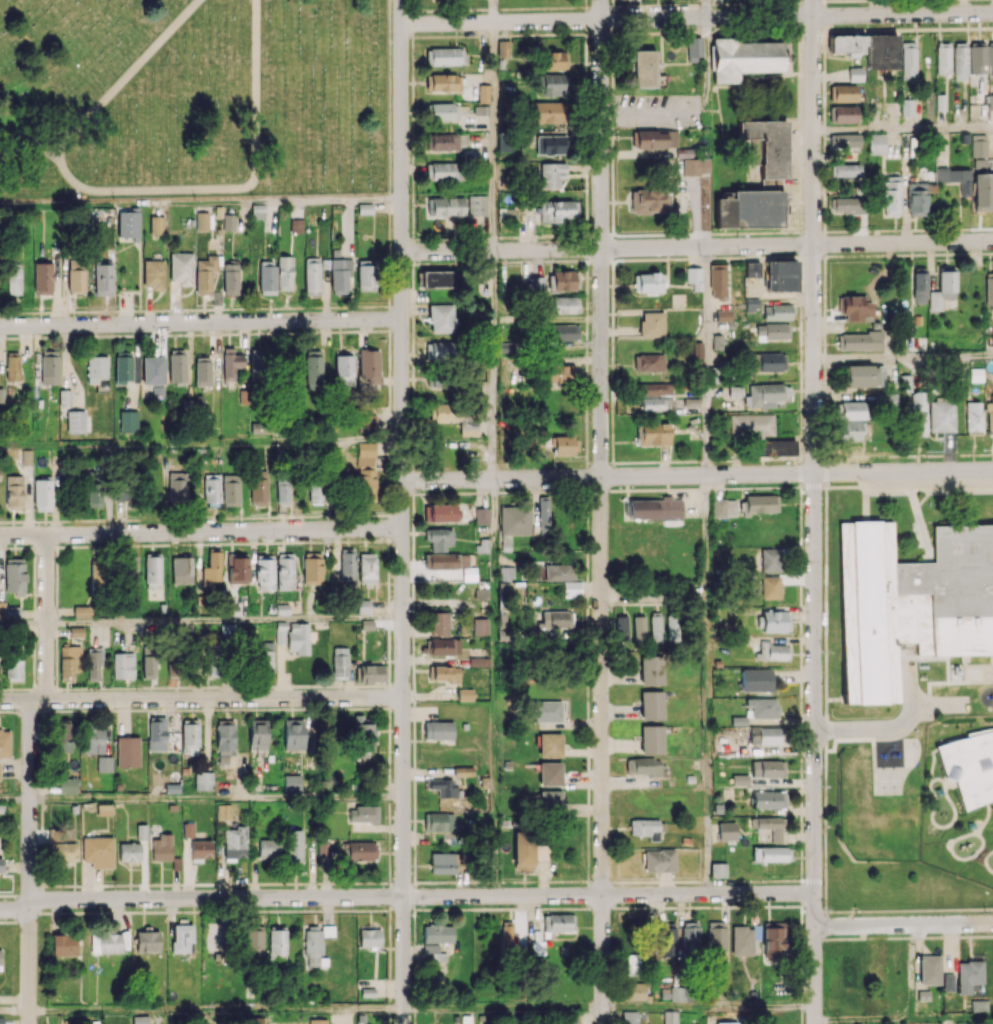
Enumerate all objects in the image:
road: (706, 9)
road: (494, 11)
road: (696, 18)
building: (847, 43)
building: (503, 48)
building: (694, 48)
building: (881, 51)
building: (444, 56)
building: (976, 57)
building: (990, 57)
building: (743, 58)
building: (943, 58)
building: (908, 59)
building: (554, 60)
building: (959, 61)
building: (643, 68)
road: (707, 70)
building: (443, 82)
building: (555, 84)
building: (844, 92)
building: (483, 93)
road: (110, 95)
park: (192, 97)
building: (906, 107)
road: (644, 110)
building: (444, 111)
building: (549, 111)
building: (843, 114)
road: (902, 128)
road: (496, 136)
building: (845, 140)
building: (504, 141)
building: (444, 142)
building: (550, 144)
building: (876, 144)
building: (978, 145)
building: (766, 149)
building: (696, 166)
building: (845, 170)
building: (443, 171)
building: (551, 174)
building: (956, 178)
road: (230, 189)
building: (982, 190)
building: (892, 195)
building: (918, 197)
road: (201, 201)
building: (652, 202)
building: (477, 205)
building: (849, 205)
building: (446, 209)
building: (558, 210)
building: (749, 210)
building: (201, 220)
building: (228, 222)
building: (128, 223)
building: (156, 225)
building: (296, 225)
road: (697, 246)
building: (181, 268)
building: (325, 268)
building: (751, 269)
building: (284, 273)
building: (153, 274)
building: (205, 274)
building: (340, 275)
building: (780, 275)
building: (76, 276)
building: (312, 276)
building: (266, 277)
building: (365, 277)
building: (694, 277)
building: (43, 278)
building: (230, 278)
building: (441, 278)
building: (14, 279)
building: (103, 279)
building: (562, 280)
building: (717, 280)
building: (647, 282)
building: (537, 285)
building: (919, 286)
building: (942, 289)
building: (989, 291)
building: (565, 304)
building: (856, 309)
building: (776, 312)
building: (441, 318)
road: (201, 322)
building: (651, 324)
building: (772, 331)
building: (561, 332)
building: (859, 340)
building: (439, 351)
road: (903, 356)
building: (232, 362)
building: (653, 362)
building: (768, 362)
building: (257, 364)
building: (177, 365)
road: (498, 365)
building: (13, 366)
building: (368, 366)
building: (49, 367)
building: (123, 367)
building: (96, 368)
building: (153, 370)
building: (202, 370)
building: (313, 370)
building: (343, 371)
building: (561, 373)
building: (864, 375)
building: (655, 388)
building: (764, 395)
building: (655, 404)
building: (851, 410)
building: (918, 413)
building: (990, 415)
building: (940, 416)
building: (457, 417)
building: (973, 418)
road: (708, 420)
building: (76, 421)
building: (128, 421)
building: (368, 422)
building: (752, 424)
building: (258, 428)
building: (850, 430)
building: (652, 434)
road: (201, 443)
building: (564, 445)
building: (773, 447)
building: (366, 471)
road: (697, 477)
building: (177, 487)
building: (258, 487)
building: (211, 489)
building: (230, 490)
building: (14, 492)
building: (122, 492)
building: (317, 492)
building: (42, 494)
building: (282, 494)
building: (93, 495)
building: (759, 504)
building: (723, 507)
building: (655, 508)
road: (813, 511)
road: (402, 512)
road: (601, 512)
building: (443, 513)
building: (481, 515)
building: (544, 516)
building: (515, 520)
road: (201, 531)
building: (439, 538)
building: (770, 559)
building: (449, 563)
building: (212, 567)
building: (347, 568)
building: (367, 568)
building: (312, 569)
building: (181, 570)
building: (237, 570)
building: (152, 571)
building: (264, 572)
building: (284, 572)
building: (558, 572)
building: (97, 573)
building: (506, 573)
building: (130, 575)
building: (14, 576)
building: (770, 587)
building: (571, 588)
road: (655, 596)
building: (363, 606)
building: (1, 609)
building: (81, 611)
road: (46, 617)
building: (556, 619)
road: (224, 621)
building: (775, 621)
road: (23, 623)
building: (438, 623)
building: (480, 626)
building: (639, 627)
building: (672, 627)
building: (622, 628)
building: (656, 628)
building: (76, 631)
building: (297, 638)
building: (441, 646)
building: (771, 651)
building: (265, 660)
building: (69, 661)
building: (479, 661)
building: (148, 662)
building: (340, 662)
building: (94, 664)
building: (123, 665)
building: (13, 668)
building: (651, 669)
building: (445, 673)
building: (370, 674)
building: (756, 680)
road: (497, 688)
road: (201, 699)
building: (651, 705)
building: (762, 707)
building: (548, 711)
building: (739, 721)
road: (884, 728)
building: (438, 730)
building: (156, 733)
building: (257, 734)
building: (293, 734)
building: (61, 735)
building: (765, 735)
building: (190, 736)
building: (362, 737)
building: (651, 739)
building: (92, 740)
building: (224, 742)
building: (4, 743)
building: (549, 745)
road: (708, 745)
building: (127, 751)
building: (104, 763)
building: (645, 766)
building: (767, 768)
building: (463, 771)
building: (549, 774)
building: (203, 781)
building: (292, 783)
building: (67, 785)
road: (217, 798)
road: (15, 799)
building: (768, 799)
building: (223, 811)
building: (363, 814)
building: (439, 821)
building: (768, 827)
building: (647, 828)
building: (187, 829)
building: (726, 831)
building: (141, 832)
building: (235, 842)
building: (293, 845)
building: (161, 847)
building: (268, 848)
building: (60, 849)
building: (201, 849)
building: (322, 850)
building: (361, 850)
building: (523, 850)
building: (97, 851)
building: (129, 851)
building: (541, 851)
building: (769, 854)
building: (659, 860)
road: (30, 862)
building: (446, 862)
building: (1, 865)
building: (717, 869)
road: (407, 896)
building: (558, 922)
road: (904, 924)
building: (437, 933)
building: (534, 933)
building: (507, 935)
building: (716, 935)
building: (182, 937)
building: (369, 937)
building: (216, 938)
building: (690, 938)
building: (147, 940)
building: (742, 940)
building: (253, 942)
building: (277, 942)
building: (667, 942)
building: (105, 943)
building: (774, 943)
building: (63, 944)
building: (432, 952)
building: (0, 956)
building: (632, 965)
building: (848, 968)
building: (929, 969)
building: (968, 975)
building: (947, 982)
building: (634, 991)
building: (678, 993)
building: (979, 1005)
road: (407, 1006)
building: (629, 1017)
building: (670, 1017)
building: (140, 1019)
building: (1, 1020)
building: (255, 1020)
road: (904, 1020)
building: (317, 1021)
building: (727, 1022)

